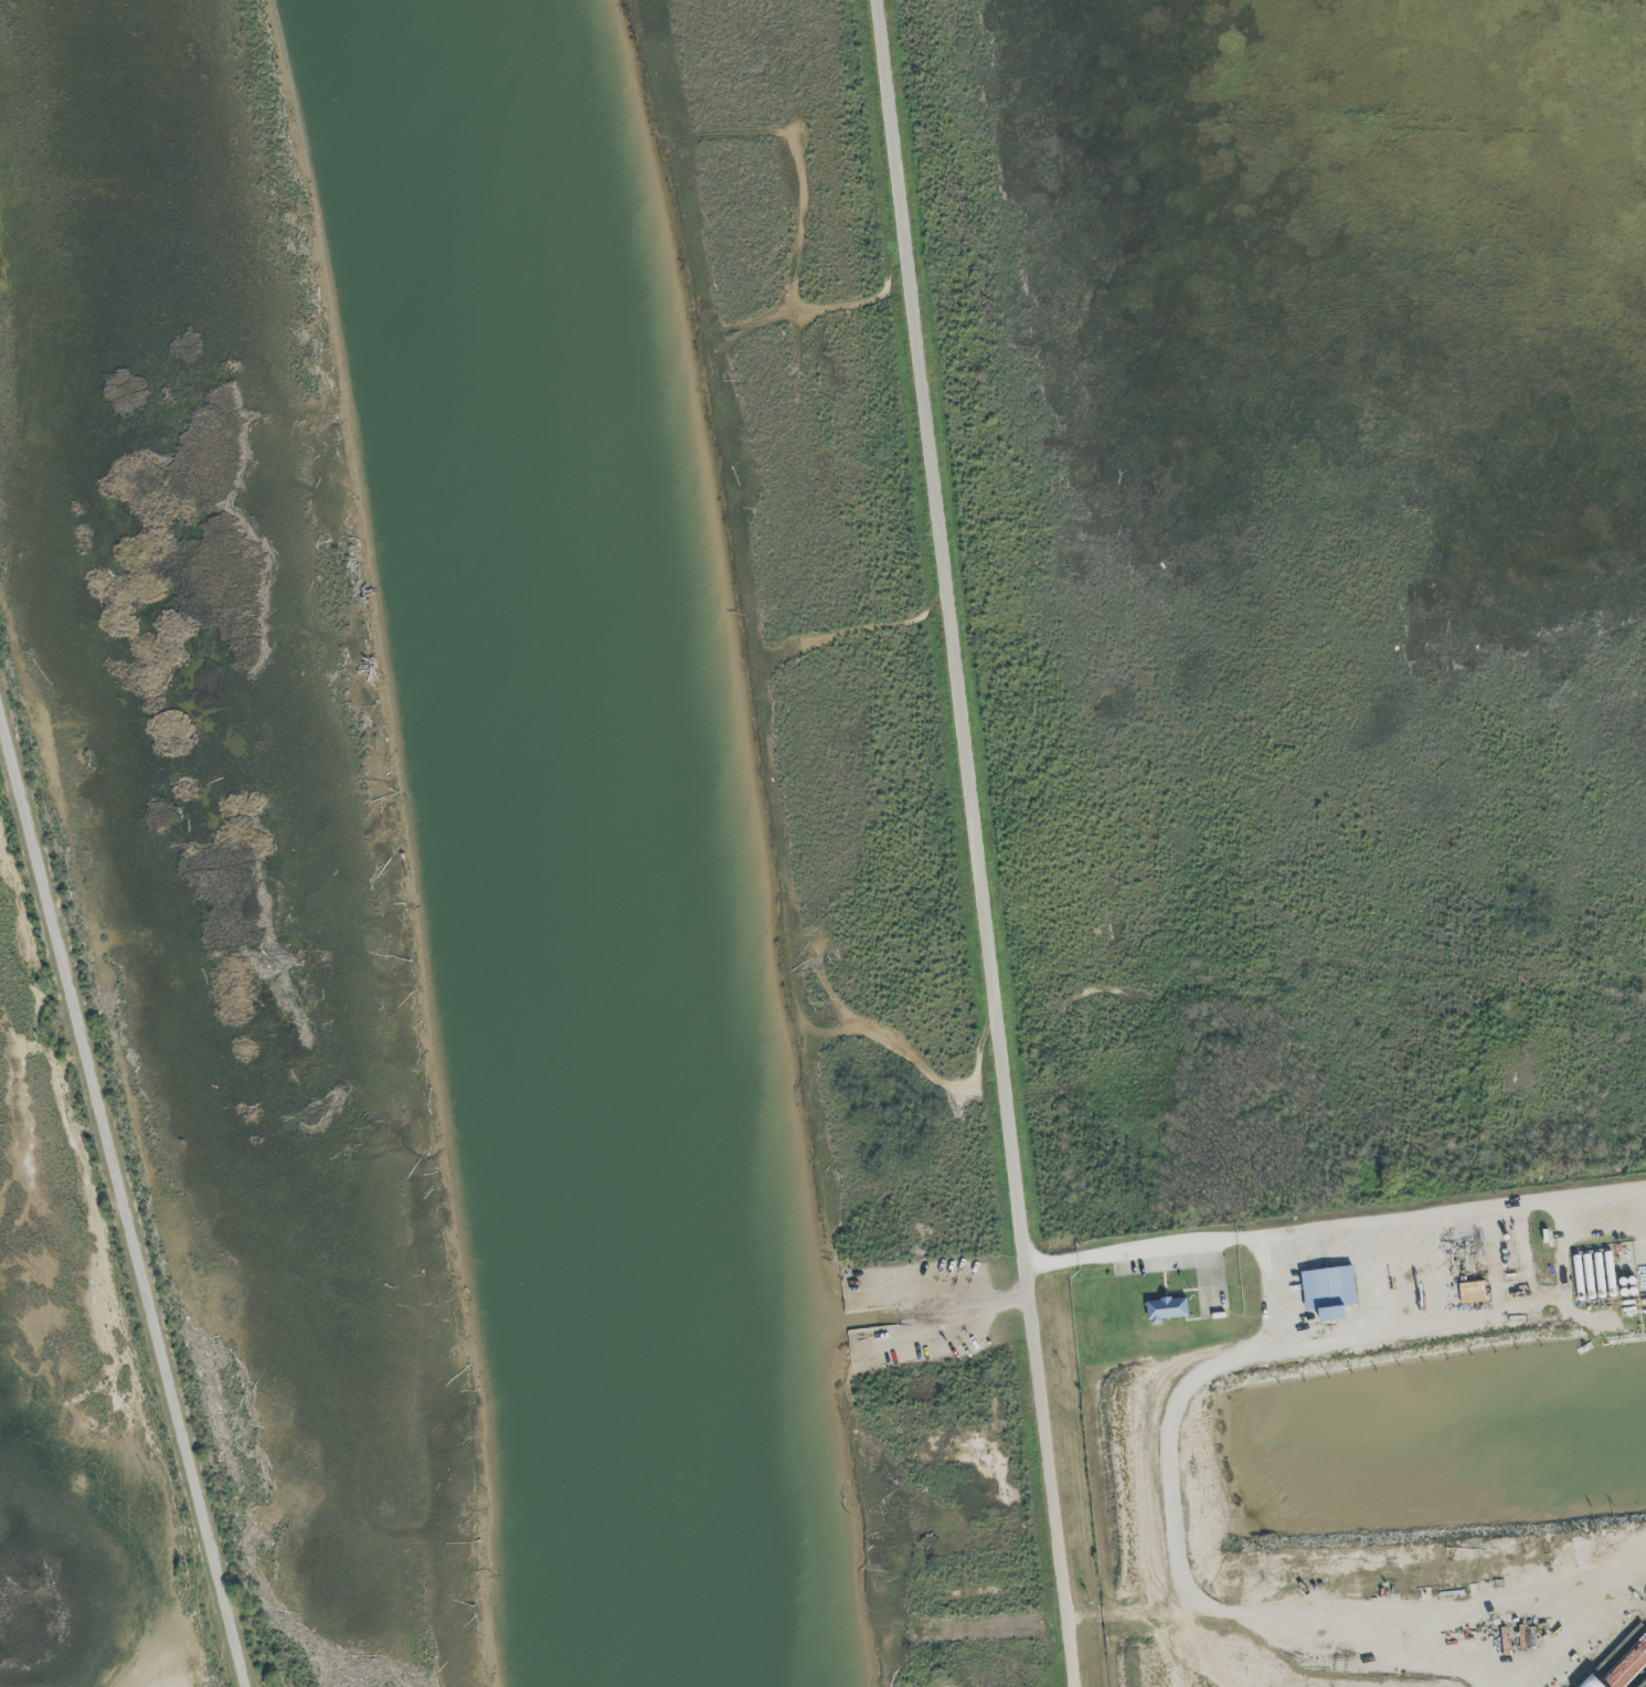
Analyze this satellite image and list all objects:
river: (570, 841)
road: (980, 842)
road: (123, 1196)
road: (1338, 1228)
building: (1165, 1311)

